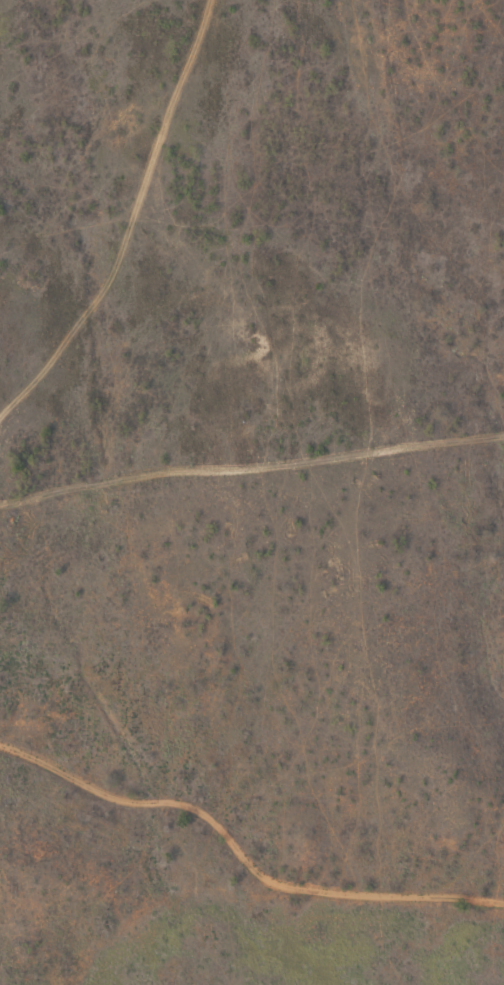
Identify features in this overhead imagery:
road: (250, 872)

